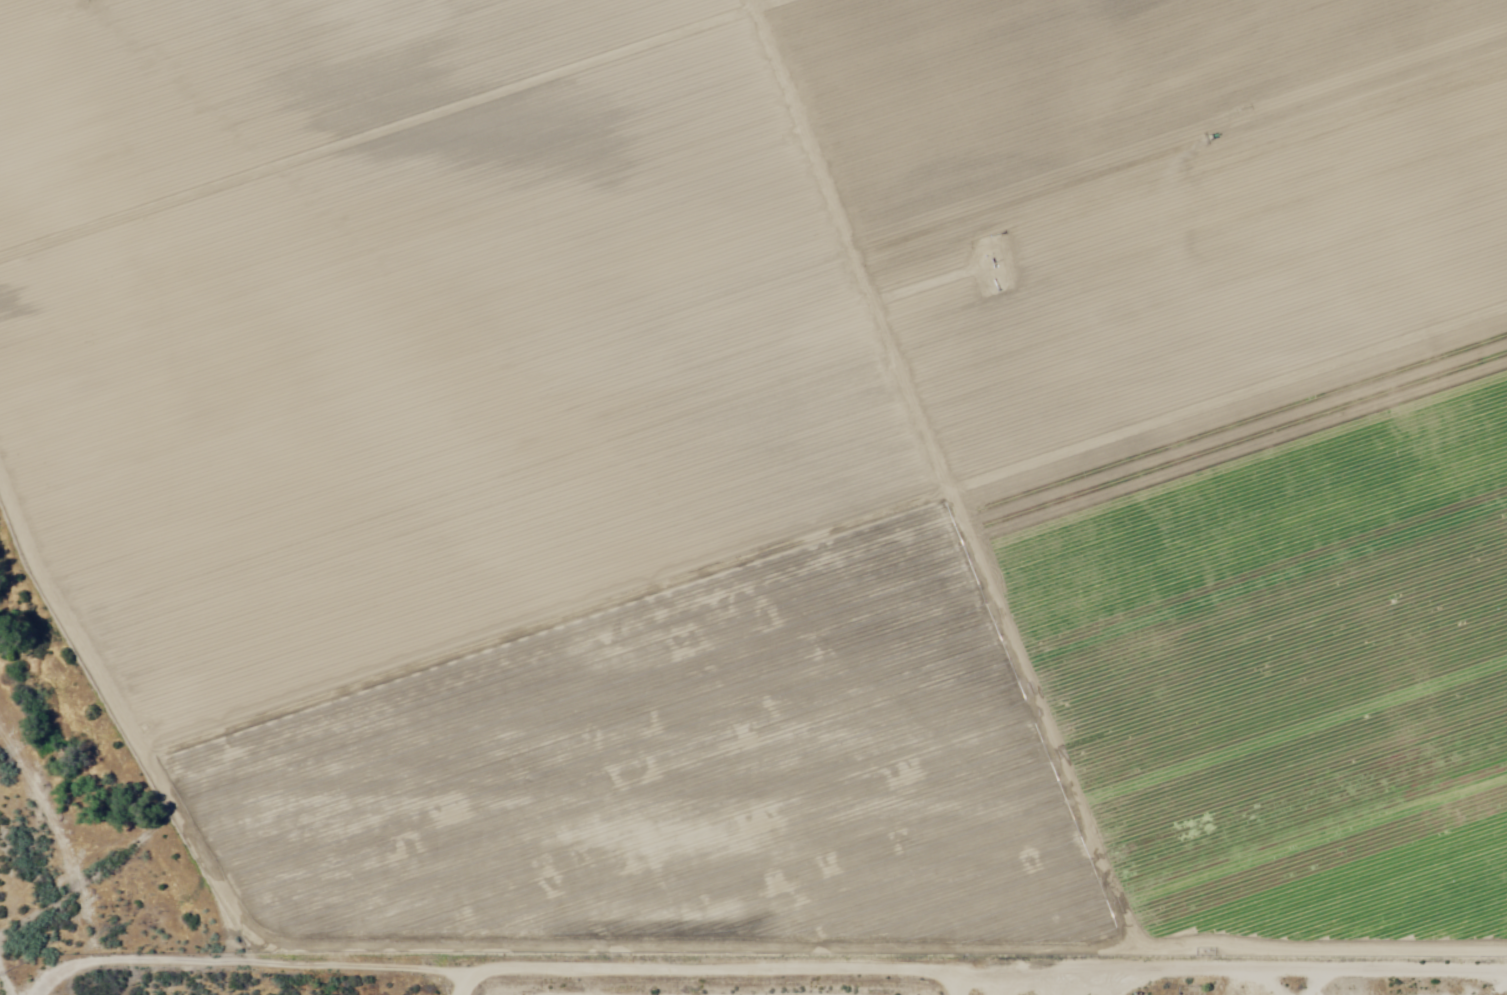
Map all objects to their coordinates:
crop: (788, 451)
road: (134, 976)
road: (620, 979)
road: (426, 986)
road: (582, 987)
road: (846, 987)
road: (1445, 987)
road: (1287, 989)

